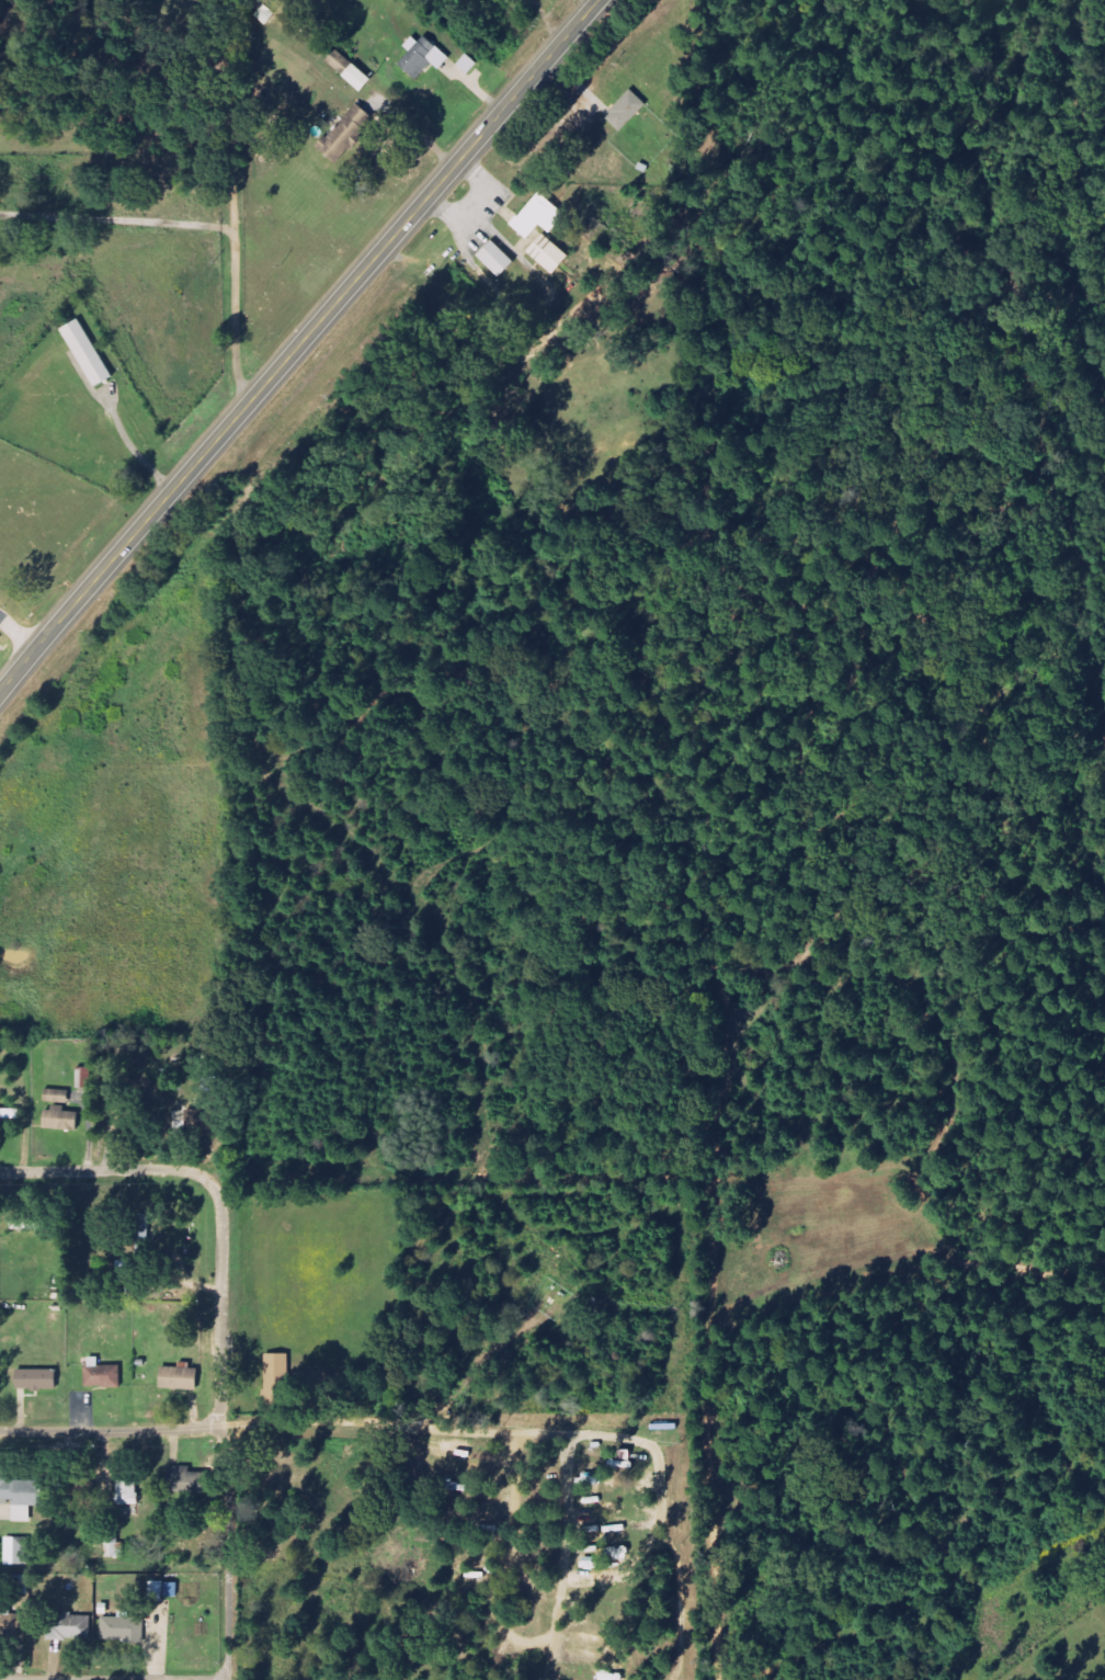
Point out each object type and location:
building: (426, 56)
building: (342, 61)
building: (362, 78)
building: (629, 111)
building: (349, 134)
building: (543, 217)
building: (552, 254)
building: (500, 259)
road: (298, 344)
building: (90, 353)
building: (87, 1078)
building: (58, 1097)
building: (9, 1114)
building: (193, 1115)
building: (64, 1120)
road: (102, 1170)
building: (276, 1367)
building: (101, 1375)
building: (178, 1378)
building: (34, 1380)
road: (223, 1423)
road: (111, 1424)
building: (190, 1480)
building: (127, 1494)
building: (19, 1497)
building: (116, 1547)
building: (21, 1548)
building: (162, 1590)
building: (12, 1625)
building: (68, 1627)
building: (123, 1630)
road: (113, 1679)

